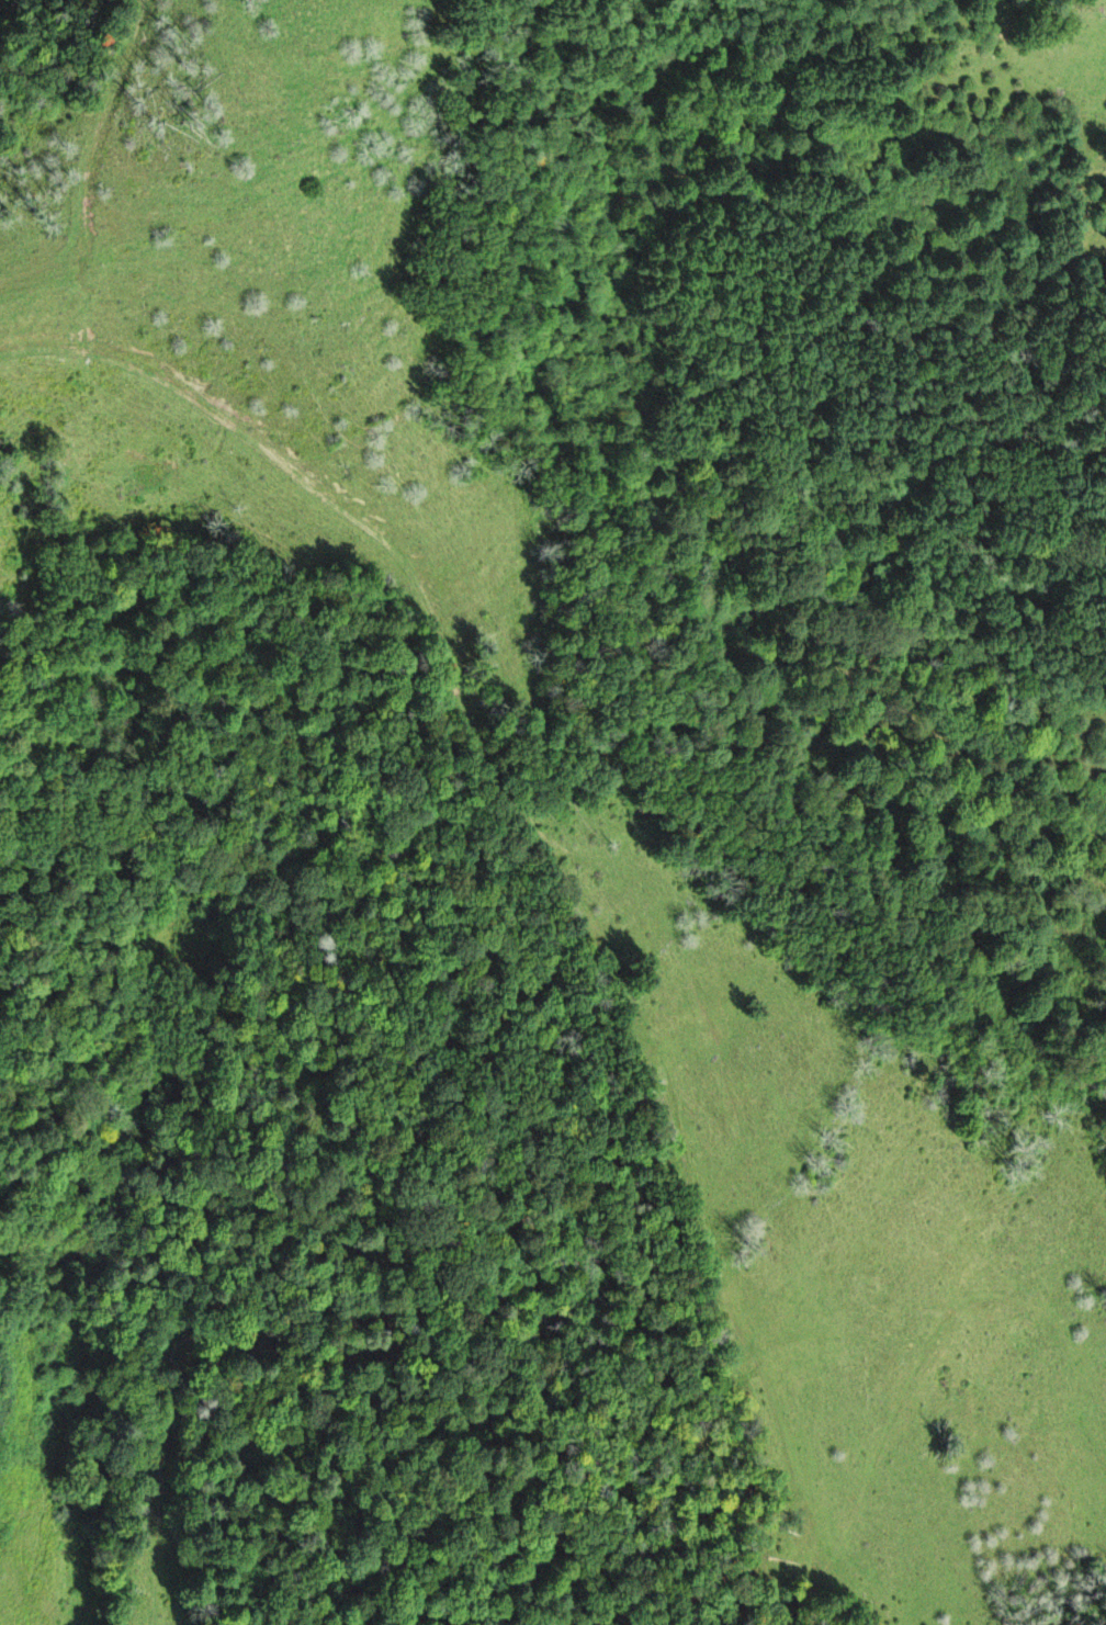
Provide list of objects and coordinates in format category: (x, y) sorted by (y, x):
road: (154, 1311)

